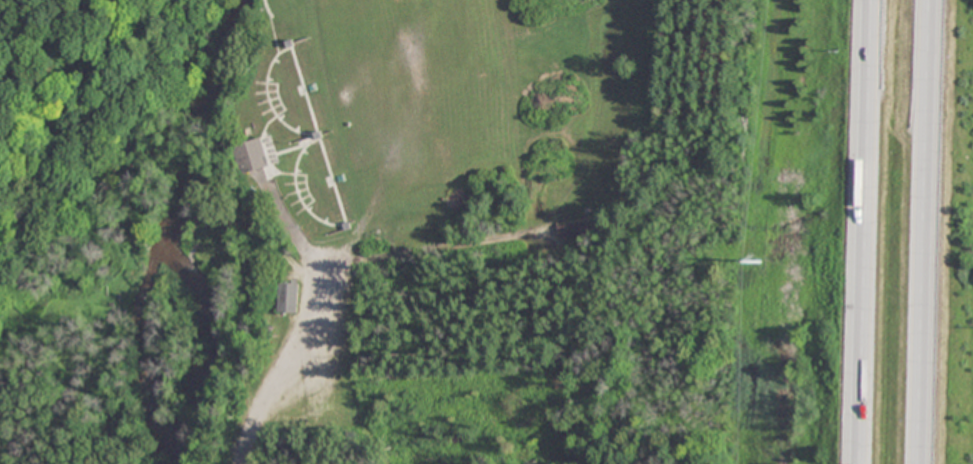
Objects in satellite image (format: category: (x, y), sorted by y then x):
building: (252, 156)
river: (173, 226)
building: (578, 229)
road: (868, 232)
road: (936, 232)
park: (12, 254)
power tower: (759, 262)
building: (288, 297)
road: (288, 365)

